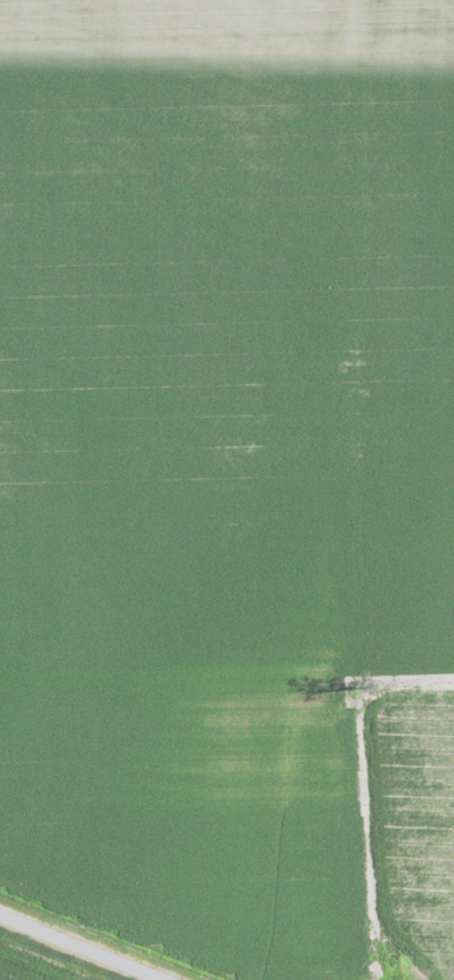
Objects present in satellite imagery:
road: (350, 493)
road: (76, 948)

